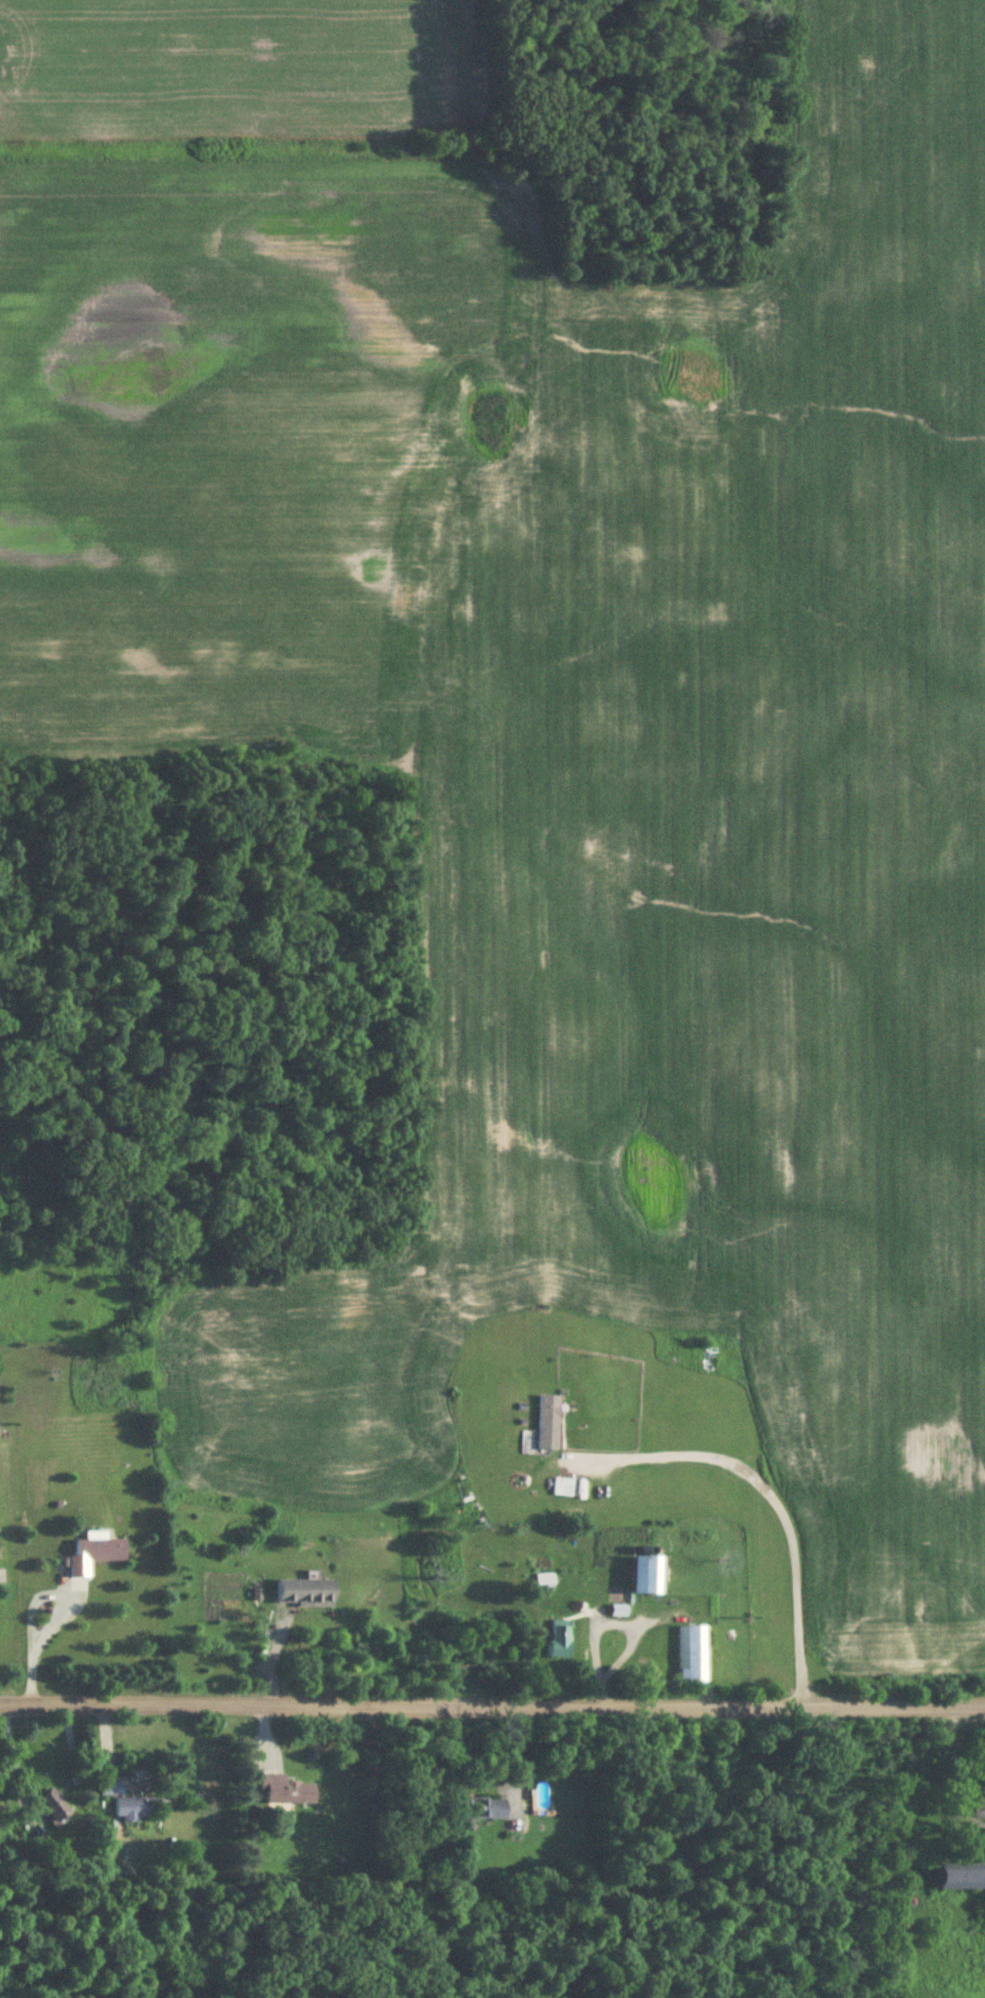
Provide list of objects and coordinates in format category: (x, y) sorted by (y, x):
building: (548, 1423)
road: (769, 1494)
building: (96, 1552)
building: (648, 1575)
building: (545, 1581)
building: (306, 1593)
road: (34, 1606)
building: (620, 1611)
road: (624, 1630)
building: (559, 1639)
building: (692, 1654)
road: (492, 1698)
building: (110, 1787)
building: (285, 1791)
building: (135, 1808)
building: (48, 1812)
building: (480, 1812)
road: (374, 1848)
building: (959, 1876)

